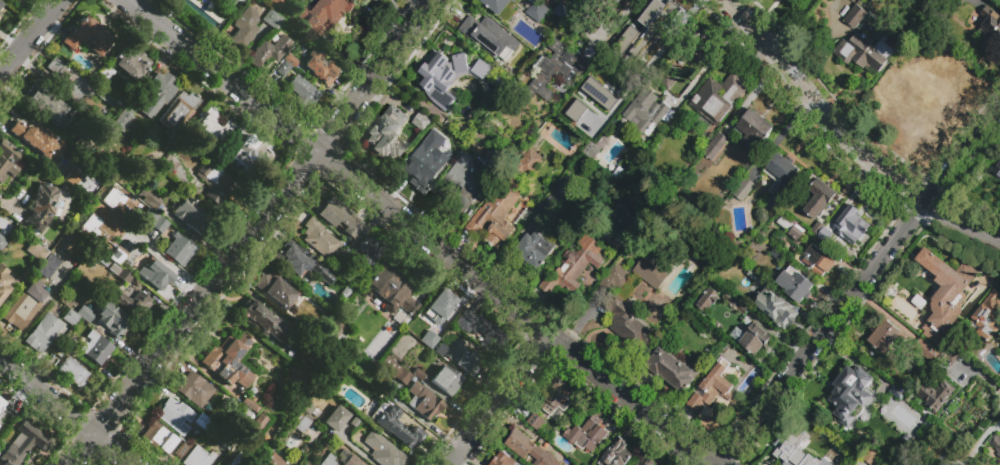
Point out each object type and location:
building: (378, 0)
building: (622, 0)
building: (275, 3)
building: (0, 4)
building: (498, 4)
building: (590, 5)
building: (1, 6)
building: (536, 11)
building: (560, 11)
building: (966, 14)
building: (323, 16)
building: (855, 17)
building: (272, 19)
road: (613, 24)
building: (245, 27)
building: (591, 29)
building: (989, 29)
building: (643, 35)
road: (28, 36)
building: (86, 36)
building: (489, 37)
building: (268, 51)
building: (694, 52)
building: (864, 52)
building: (464, 58)
building: (290, 59)
building: (130, 61)
road: (708, 62)
building: (319, 66)
building: (282, 69)
building: (557, 74)
building: (666, 81)
building: (75, 83)
building: (304, 91)
building: (432, 93)
building: (155, 94)
building: (600, 94)
building: (718, 98)
building: (473, 99)
building: (44, 103)
building: (587, 108)
building: (176, 110)
building: (574, 110)
building: (647, 113)
building: (124, 118)
building: (600, 125)
building: (212, 126)
building: (754, 130)
building: (387, 132)
building: (151, 135)
building: (466, 135)
road: (780, 135)
road: (848, 137)
building: (37, 139)
building: (715, 146)
building: (226, 153)
building: (249, 157)
building: (37, 158)
building: (7, 159)
building: (427, 161)
building: (169, 164)
road: (338, 168)
building: (996, 170)
building: (141, 172)
building: (781, 179)
building: (214, 182)
building: (465, 184)
building: (744, 190)
building: (144, 195)
building: (817, 196)
building: (503, 203)
building: (45, 207)
building: (131, 208)
building: (548, 209)
building: (191, 216)
building: (337, 216)
building: (846, 228)
building: (95, 229)
building: (817, 229)
building: (592, 230)
road: (252, 232)
building: (797, 232)
building: (318, 237)
building: (2, 244)
building: (178, 248)
building: (534, 250)
building: (35, 251)
building: (365, 251)
building: (776, 254)
building: (118, 255)
building: (817, 262)
building: (303, 263)
road: (168, 264)
building: (48, 266)
building: (574, 268)
building: (340, 269)
building: (119, 272)
building: (649, 273)
building: (154, 275)
building: (753, 276)
building: (3, 283)
building: (794, 285)
building: (274, 288)
road: (859, 288)
building: (389, 290)
building: (945, 293)
building: (706, 300)
building: (134, 303)
building: (441, 303)
building: (23, 306)
building: (731, 306)
building: (774, 308)
building: (624, 310)
building: (86, 314)
building: (69, 317)
building: (985, 317)
building: (112, 319)
building: (260, 319)
building: (476, 325)
building: (42, 333)
building: (886, 336)
building: (752, 338)
building: (68, 345)
building: (94, 347)
building: (284, 347)
building: (60, 351)
building: (925, 351)
building: (224, 353)
building: (999, 354)
building: (460, 356)
building: (949, 356)
building: (306, 358)
building: (670, 369)
building: (74, 372)
building: (240, 374)
building: (417, 374)
building: (400, 376)
building: (255, 379)
building: (446, 379)
building: (194, 388)
building: (711, 389)
building: (849, 392)
building: (933, 394)
building: (558, 397)
building: (423, 401)
road: (499, 401)
road: (630, 401)
building: (1, 403)
building: (966, 403)
road: (66, 411)
building: (174, 415)
building: (4, 417)
building: (242, 417)
building: (887, 417)
building: (335, 418)
building: (201, 420)
building: (301, 421)
building: (535, 421)
building: (257, 425)
building: (397, 427)
building: (587, 434)
building: (158, 437)
building: (22, 444)
building: (996, 444)
building: (228, 446)
building: (528, 448)
road: (355, 449)
building: (381, 450)
building: (790, 451)
building: (180, 454)
building: (616, 454)
building: (197, 456)
building: (347, 458)
building: (236, 459)
building: (272, 460)
building: (328, 460)
building: (504, 460)
building: (979, 460)
building: (645, 462)
building: (865, 463)

